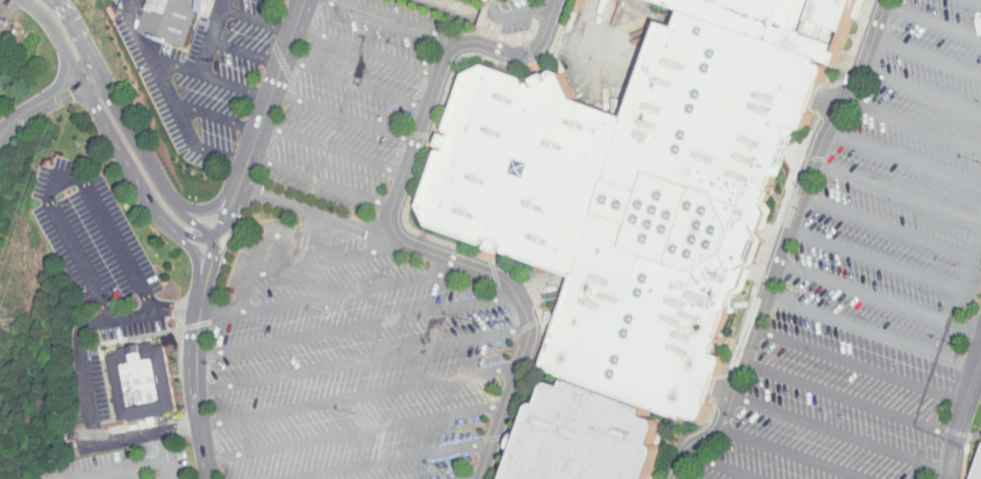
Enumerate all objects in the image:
road: (980, 0)
road: (297, 1)
railway: (3, 4)
road: (455, 8)
road: (516, 15)
building: (168, 19)
road: (257, 20)
road: (932, 20)
road: (393, 23)
road: (80, 34)
road: (873, 34)
road: (212, 36)
road: (57, 37)
road: (367, 50)
road: (245, 53)
road: (926, 56)
road: (599, 59)
road: (153, 72)
road: (207, 75)
road: (274, 81)
road: (354, 84)
road: (921, 89)
road: (45, 97)
road: (828, 101)
road: (212, 114)
road: (343, 115)
road: (914, 123)
road: (420, 125)
road: (331, 148)
road: (218, 153)
road: (903, 155)
road: (60, 174)
road: (158, 177)
road: (319, 181)
road: (896, 191)
road: (145, 196)
road: (228, 200)
road: (235, 204)
road: (796, 211)
road: (322, 214)
building: (634, 214)
road: (191, 221)
road: (886, 226)
road: (300, 229)
road: (392, 231)
road: (195, 237)
road: (226, 251)
road: (326, 259)
road: (874, 259)
road: (204, 273)
road: (211, 274)
road: (963, 274)
road: (248, 275)
parking lot: (354, 275)
parking lot: (876, 275)
road: (540, 289)
road: (334, 293)
road: (880, 298)
power tower: (7, 320)
road: (352, 325)
road: (871, 332)
road: (360, 360)
road: (860, 367)
road: (81, 373)
building: (140, 378)
road: (976, 384)
road: (722, 392)
road: (967, 393)
road: (191, 394)
road: (355, 396)
road: (849, 399)
road: (720, 426)
road: (352, 434)
road: (842, 434)
road: (791, 454)
road: (165, 455)
road: (952, 457)
road: (391, 460)
parking lot: (121, 463)
building: (976, 466)
road: (723, 467)
road: (116, 469)
road: (129, 473)

